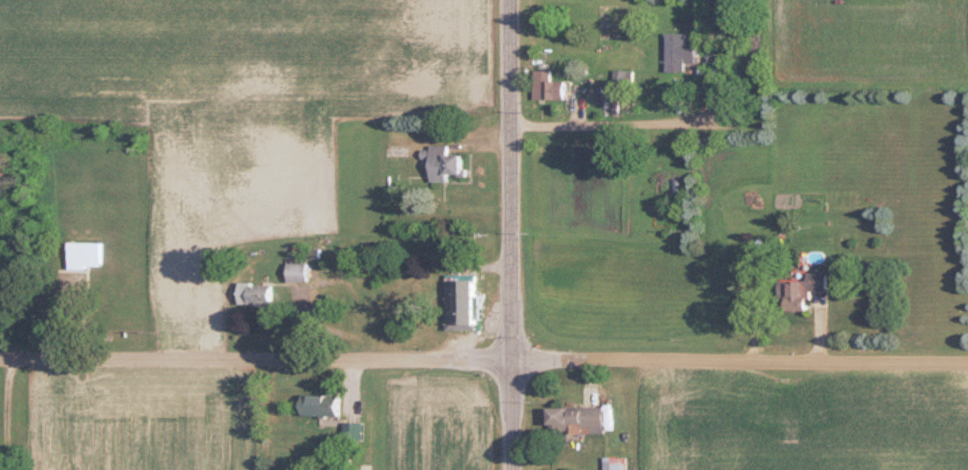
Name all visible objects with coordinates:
road: (623, 6)
building: (677, 53)
building: (542, 78)
building: (623, 79)
road: (611, 123)
building: (438, 165)
road: (512, 235)
building: (297, 273)
building: (798, 292)
building: (254, 295)
building: (457, 304)
road: (483, 362)
building: (320, 406)
road: (8, 415)
building: (574, 420)
building: (352, 433)

